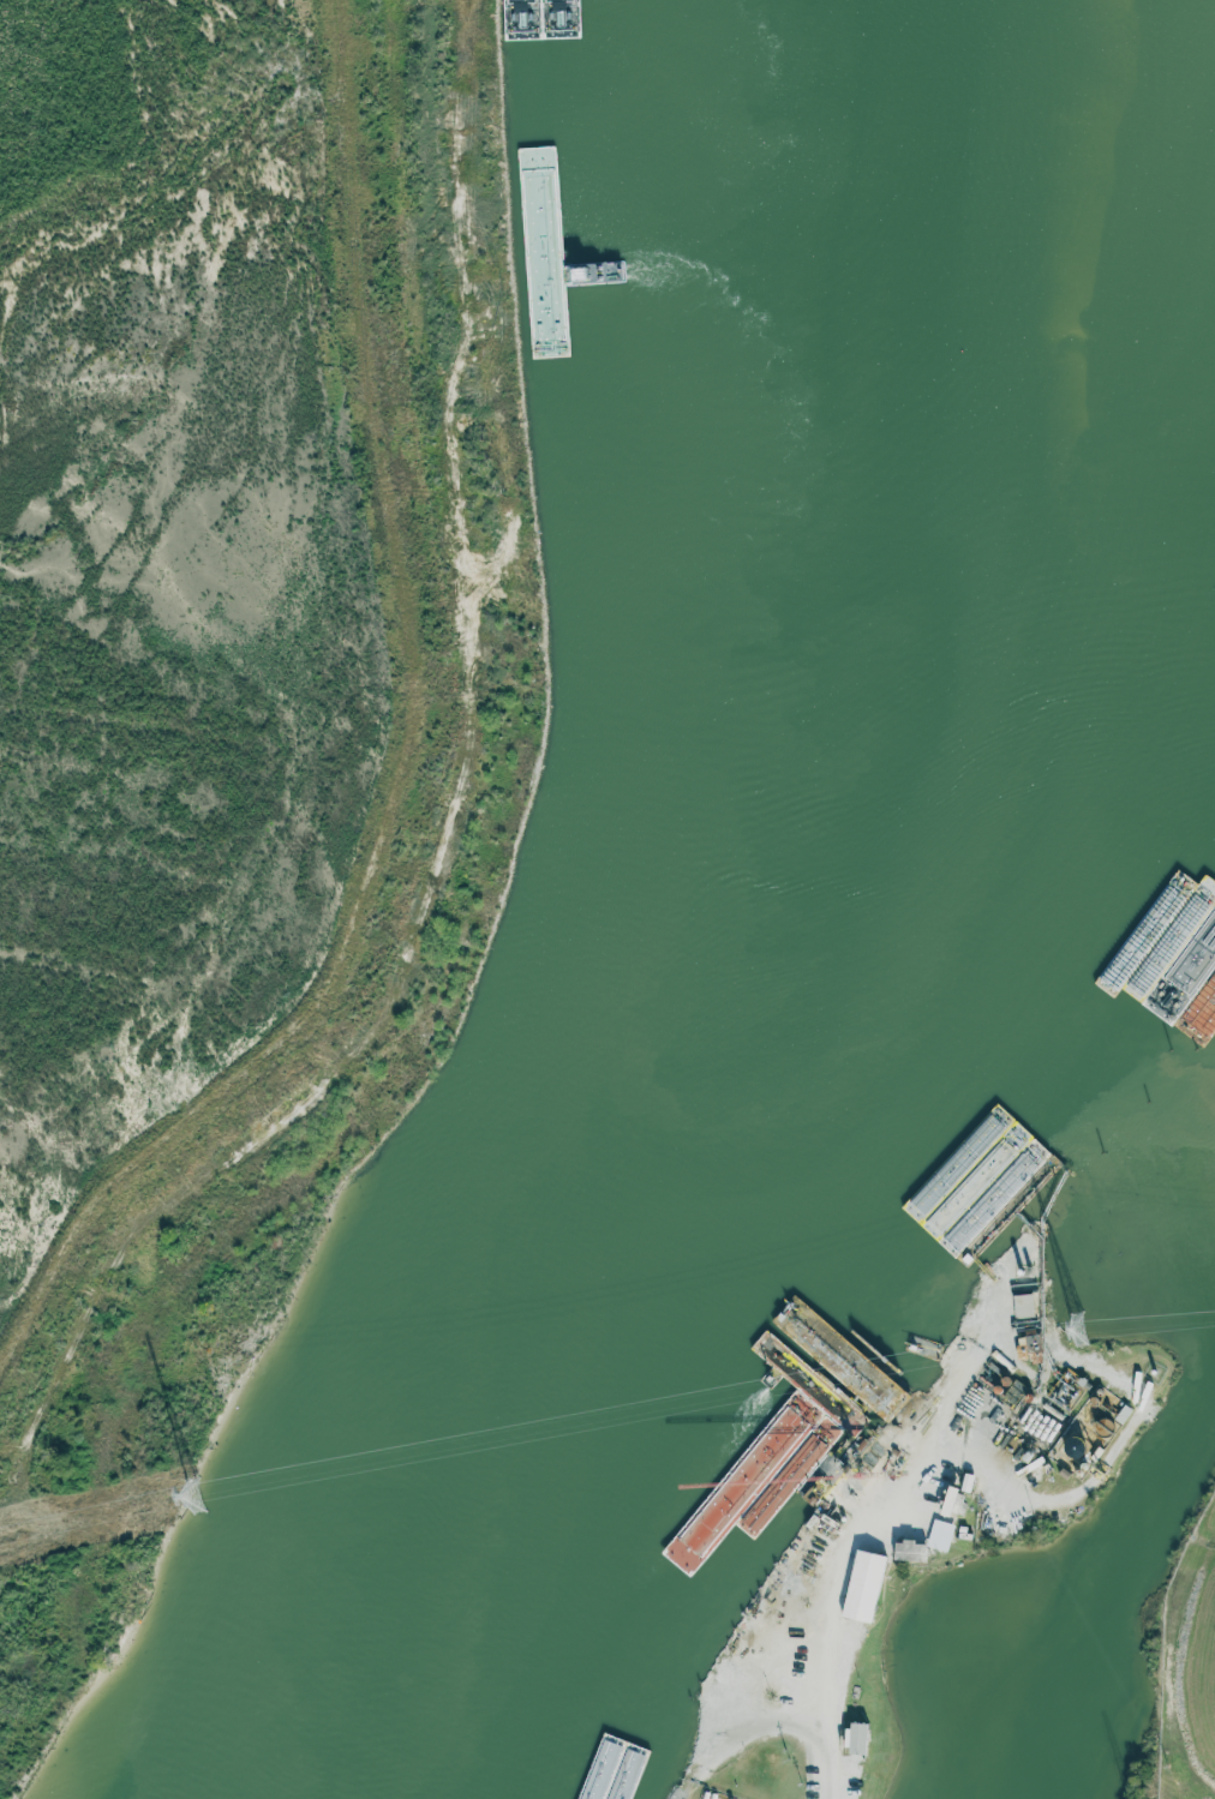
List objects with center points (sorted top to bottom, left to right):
landfill: (244, 715)
river: (840, 904)
building: (1208, 999)
building: (1023, 1305)
power tower: (1079, 1330)
power tower: (197, 1497)
building: (950, 1501)
building: (908, 1551)
building: (861, 1585)
road: (836, 1673)
building: (851, 1735)

